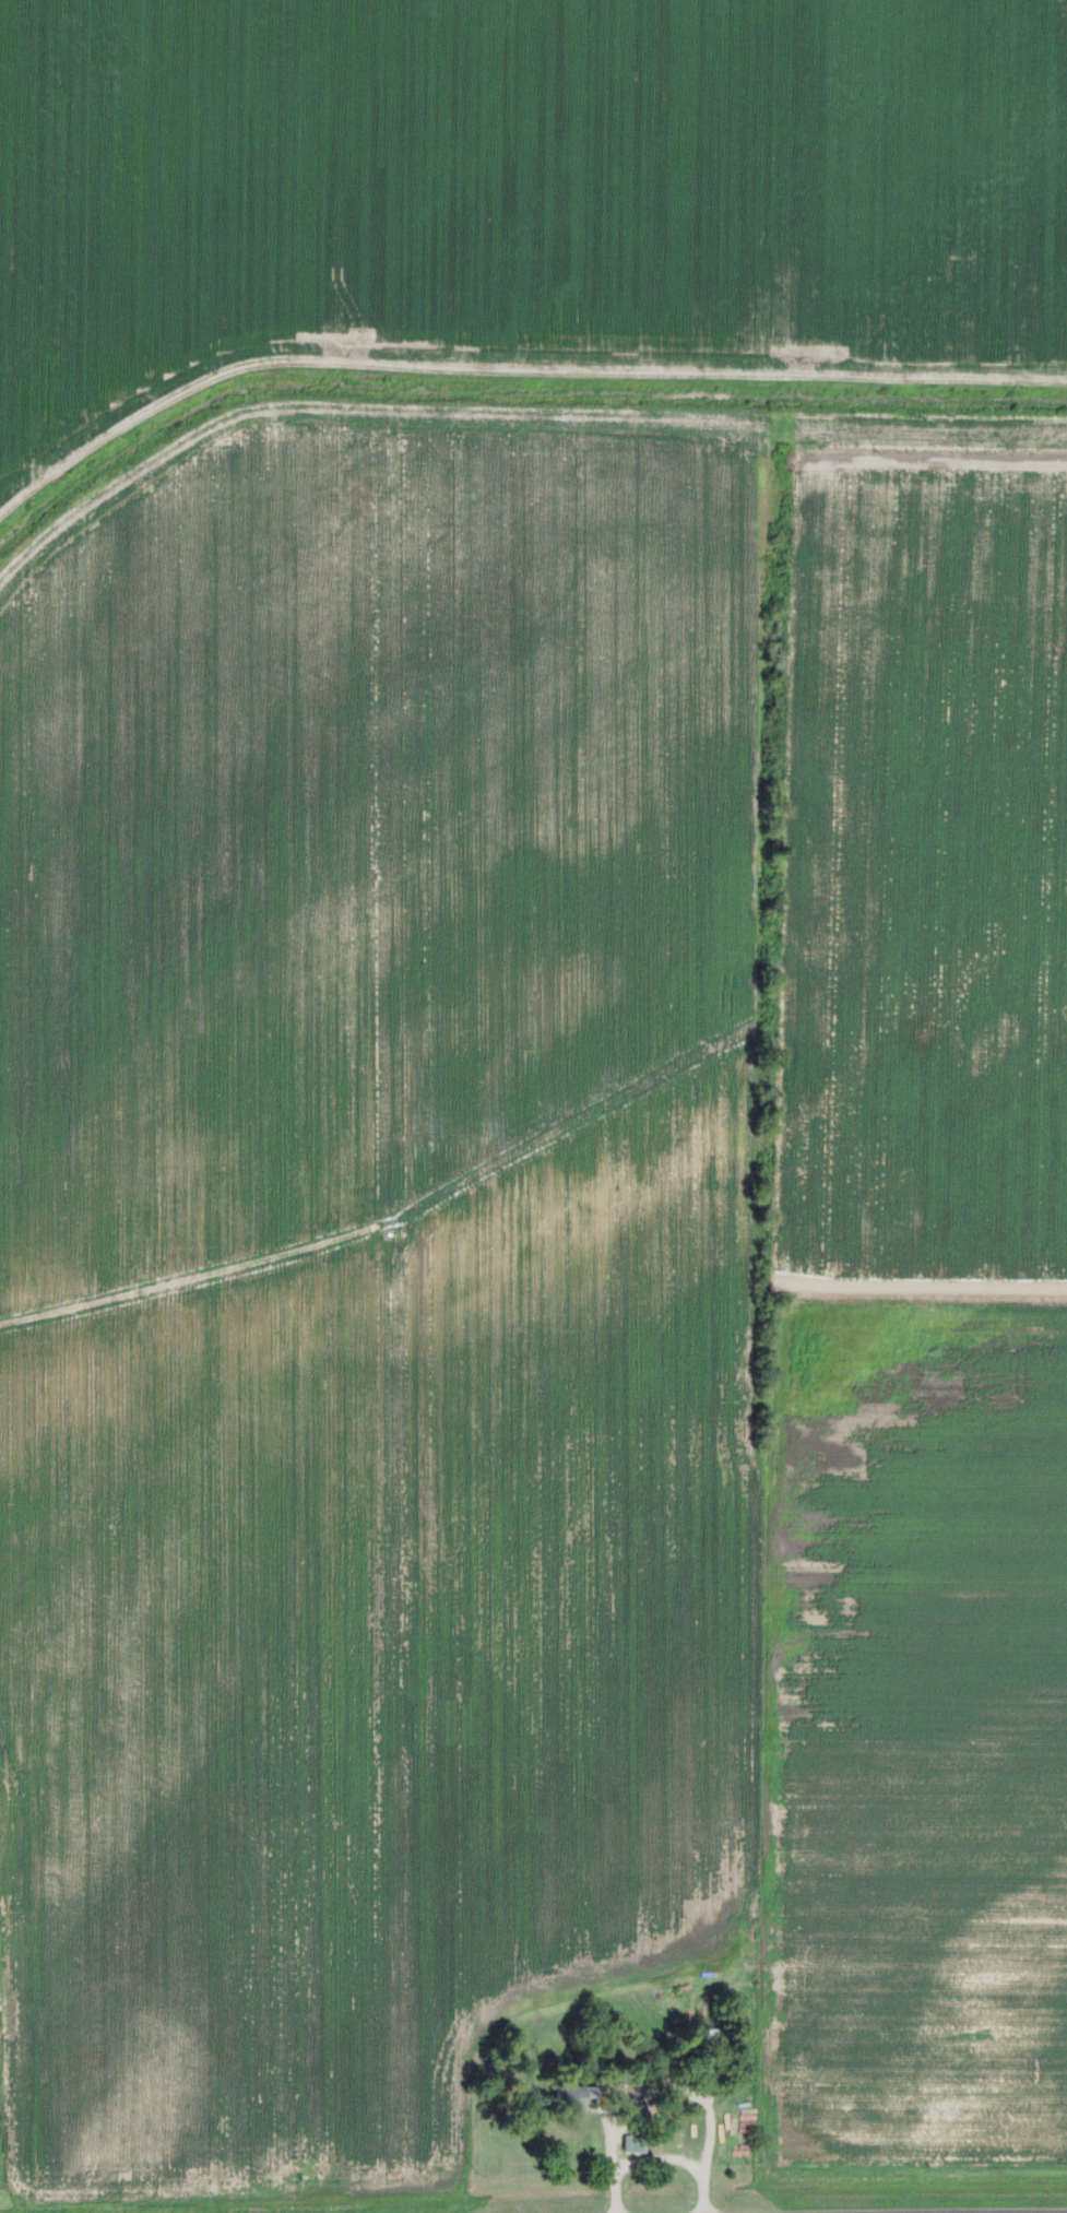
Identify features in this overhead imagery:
road: (657, 2091)

